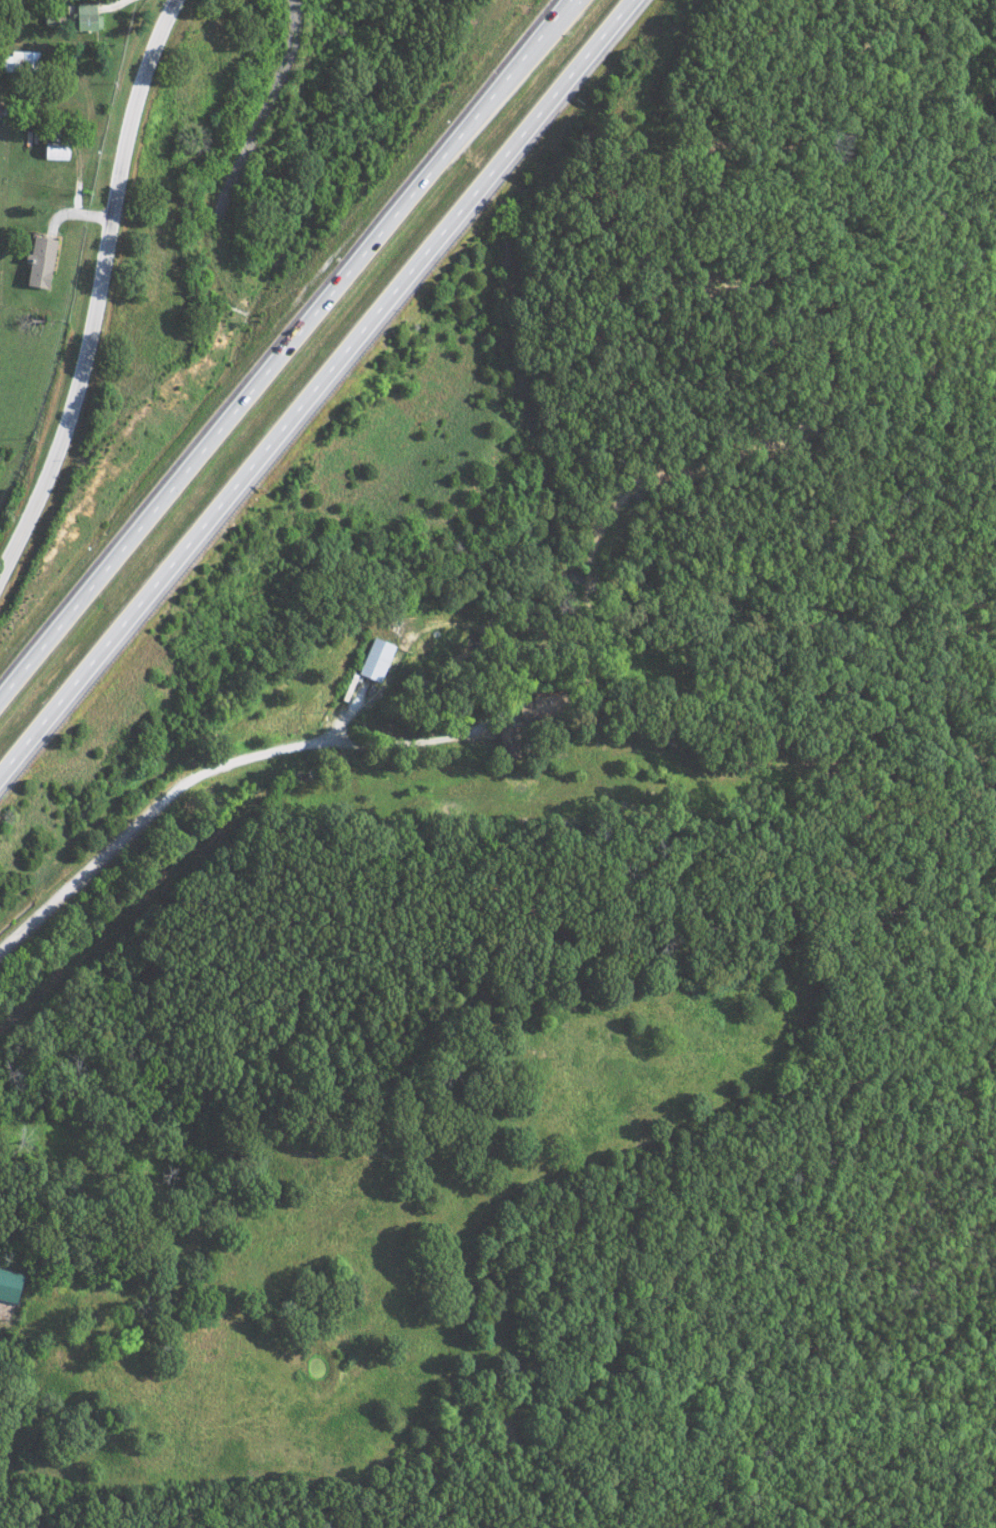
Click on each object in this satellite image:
building: (84, 17)
building: (18, 62)
building: (37, 262)
road: (104, 292)
road: (285, 350)
road: (313, 384)
building: (375, 660)
road: (426, 739)
road: (155, 810)
road: (299, 992)
building: (7, 1285)

